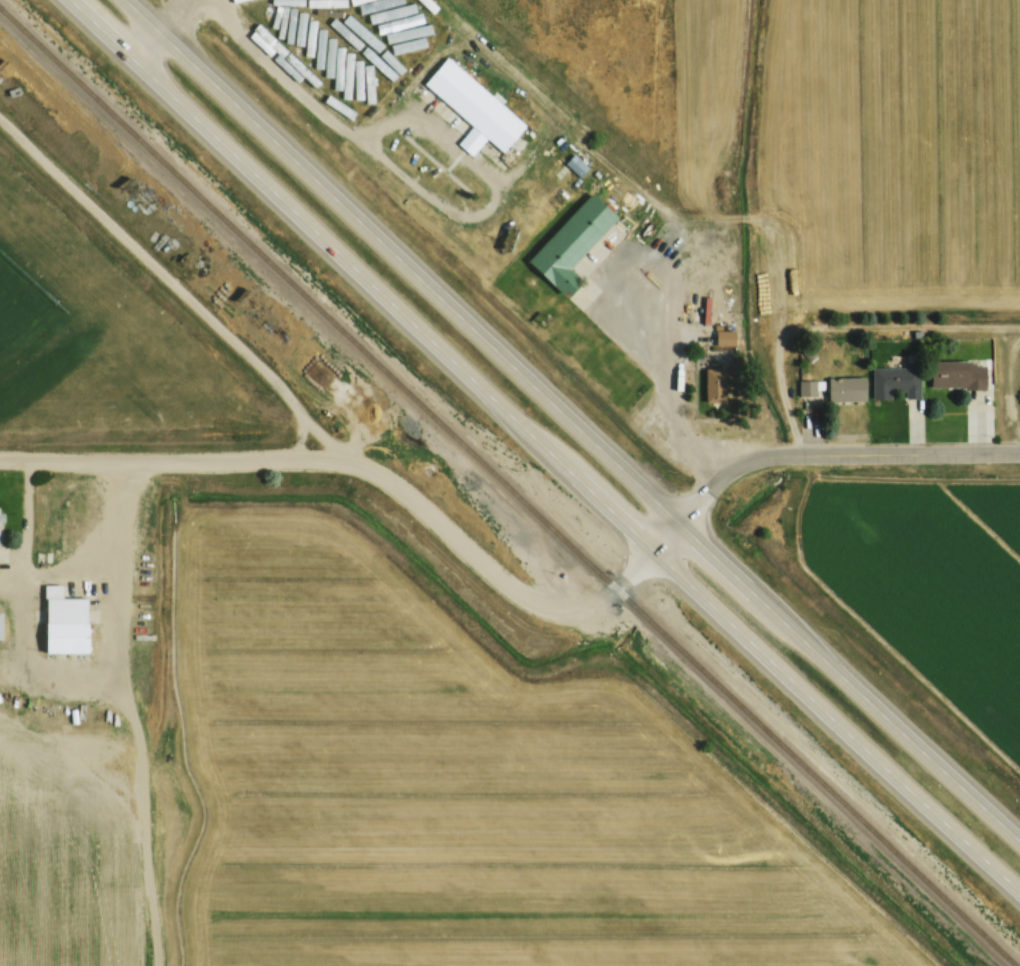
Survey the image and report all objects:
building: (398, 22)
road: (167, 29)
building: (379, 56)
road: (284, 63)
building: (473, 104)
road: (464, 200)
building: (571, 243)
road: (839, 326)
building: (724, 338)
building: (957, 375)
road: (664, 379)
building: (896, 381)
building: (714, 385)
building: (807, 388)
building: (846, 390)
road: (573, 419)
road: (545, 446)
road: (838, 452)
road: (380, 474)
railway: (508, 486)
building: (64, 622)
building: (0, 625)

